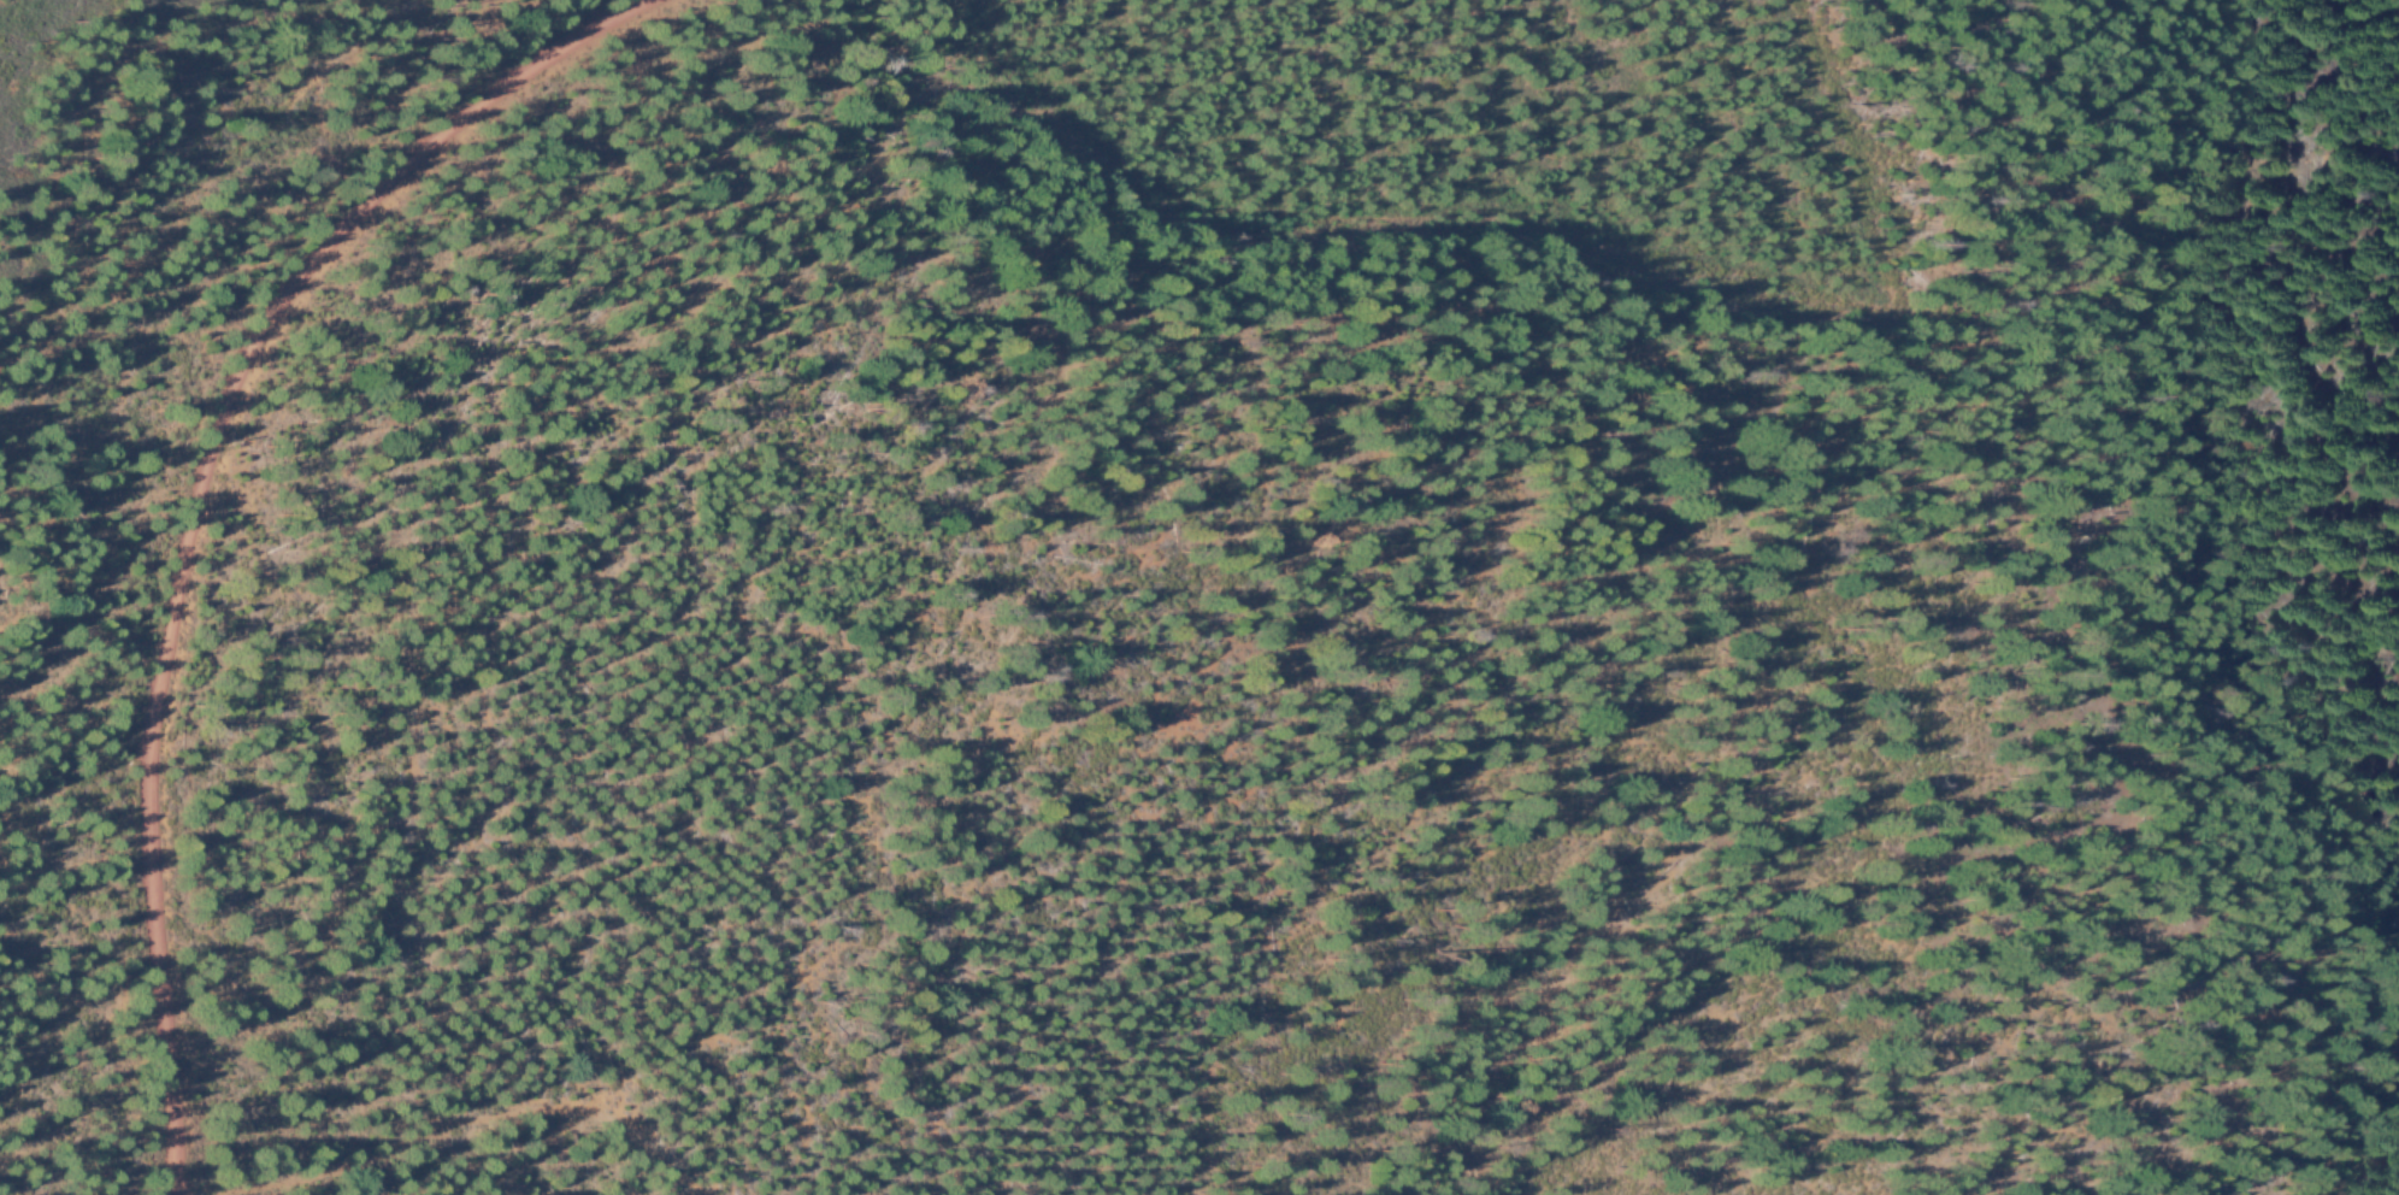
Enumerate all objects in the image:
road: (187, 506)

